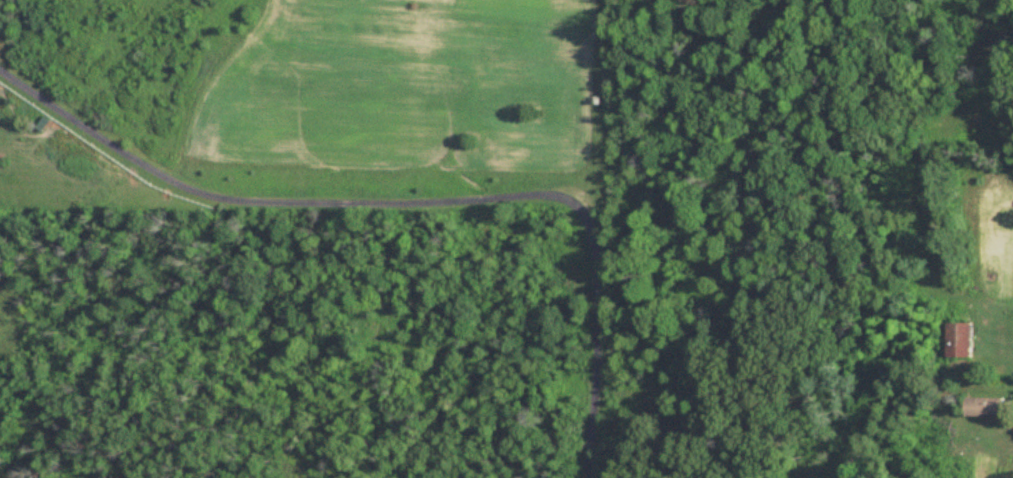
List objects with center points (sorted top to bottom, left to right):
road: (410, 200)
building: (961, 341)
building: (984, 409)

